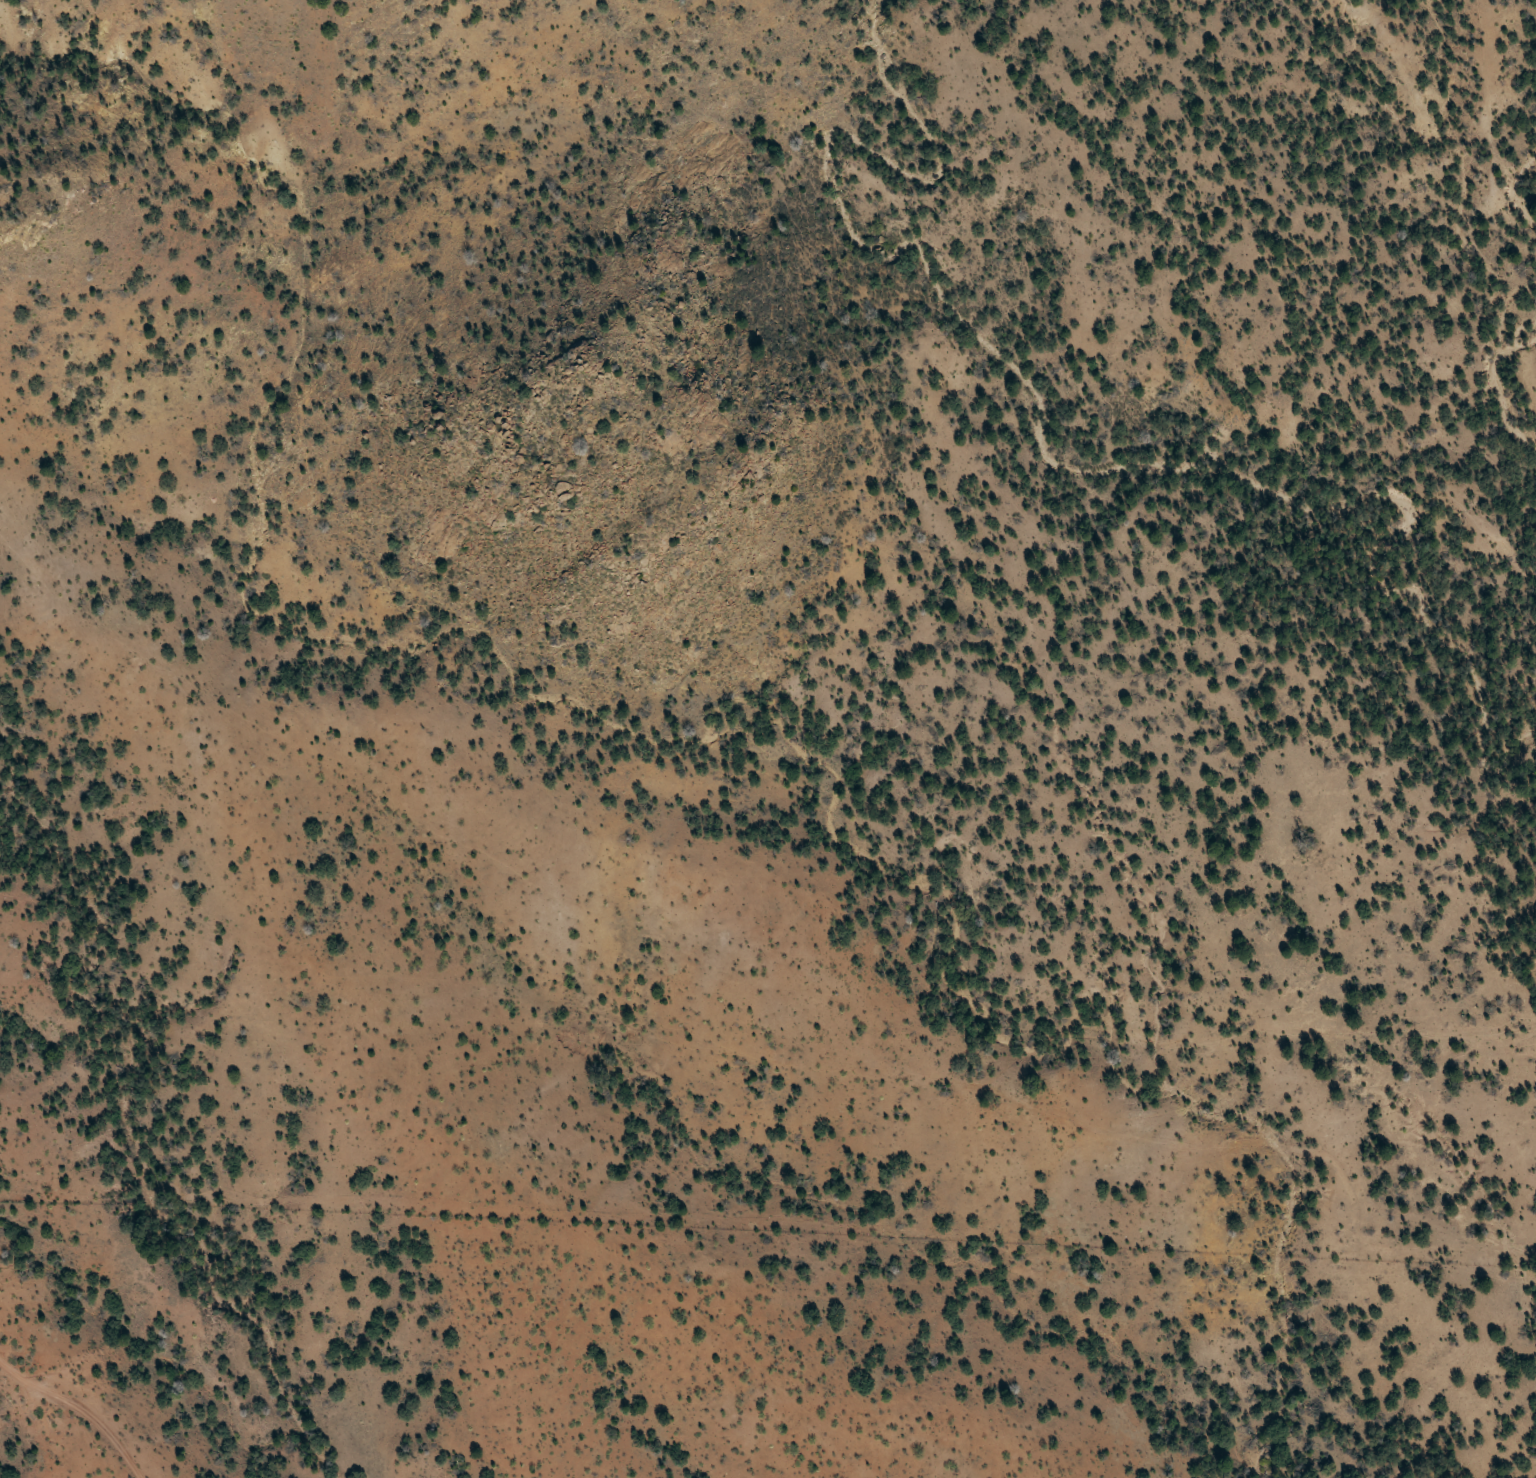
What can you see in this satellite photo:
road: (67, 1400)

